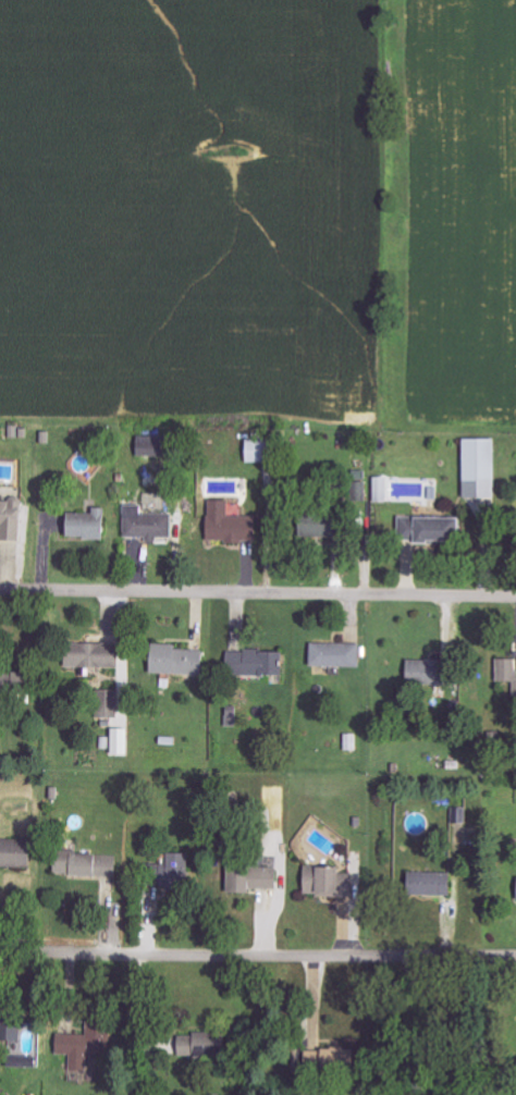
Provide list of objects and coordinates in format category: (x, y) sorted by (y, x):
building: (156, 445)
building: (266, 450)
building: (484, 467)
building: (385, 489)
building: (14, 518)
building: (94, 524)
building: (235, 524)
building: (332, 524)
building: (152, 526)
building: (438, 527)
road: (258, 590)
building: (98, 654)
building: (341, 654)
building: (183, 660)
building: (261, 662)
building: (508, 669)
building: (429, 670)
building: (113, 704)
building: (126, 740)
building: (462, 814)
building: (17, 852)
building: (90, 864)
building: (181, 871)
building: (261, 877)
building: (331, 882)
building: (434, 883)
road: (257, 955)
building: (15, 1025)
building: (95, 1041)
building: (208, 1044)

